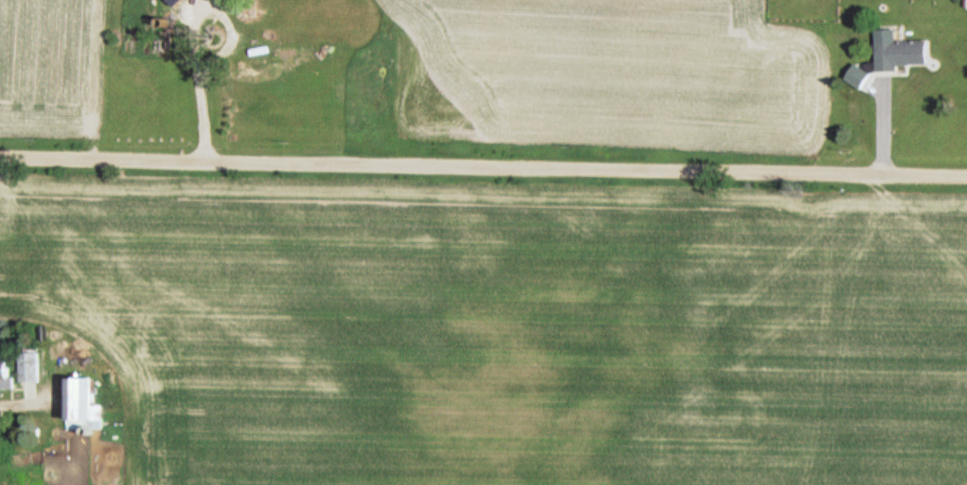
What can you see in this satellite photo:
building: (908, 53)
road: (885, 124)
road: (483, 166)
building: (32, 365)
building: (86, 397)

